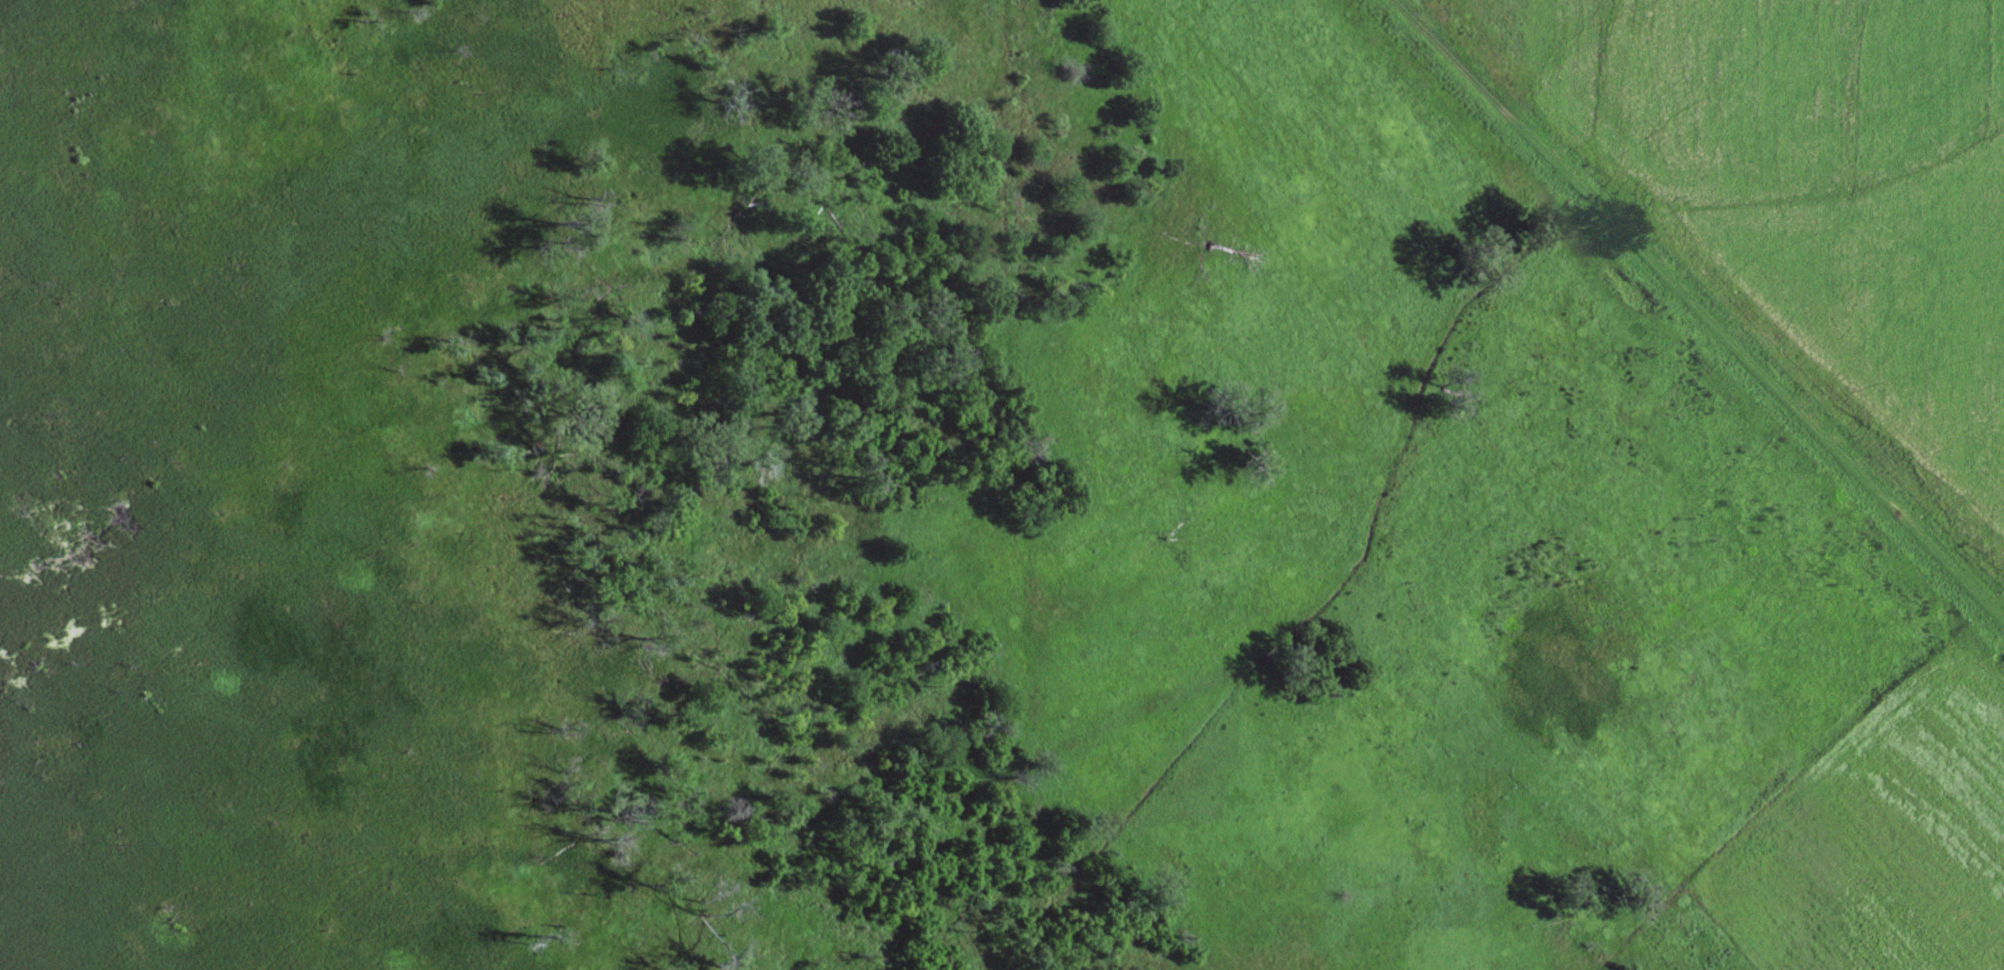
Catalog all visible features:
road: (1697, 313)

